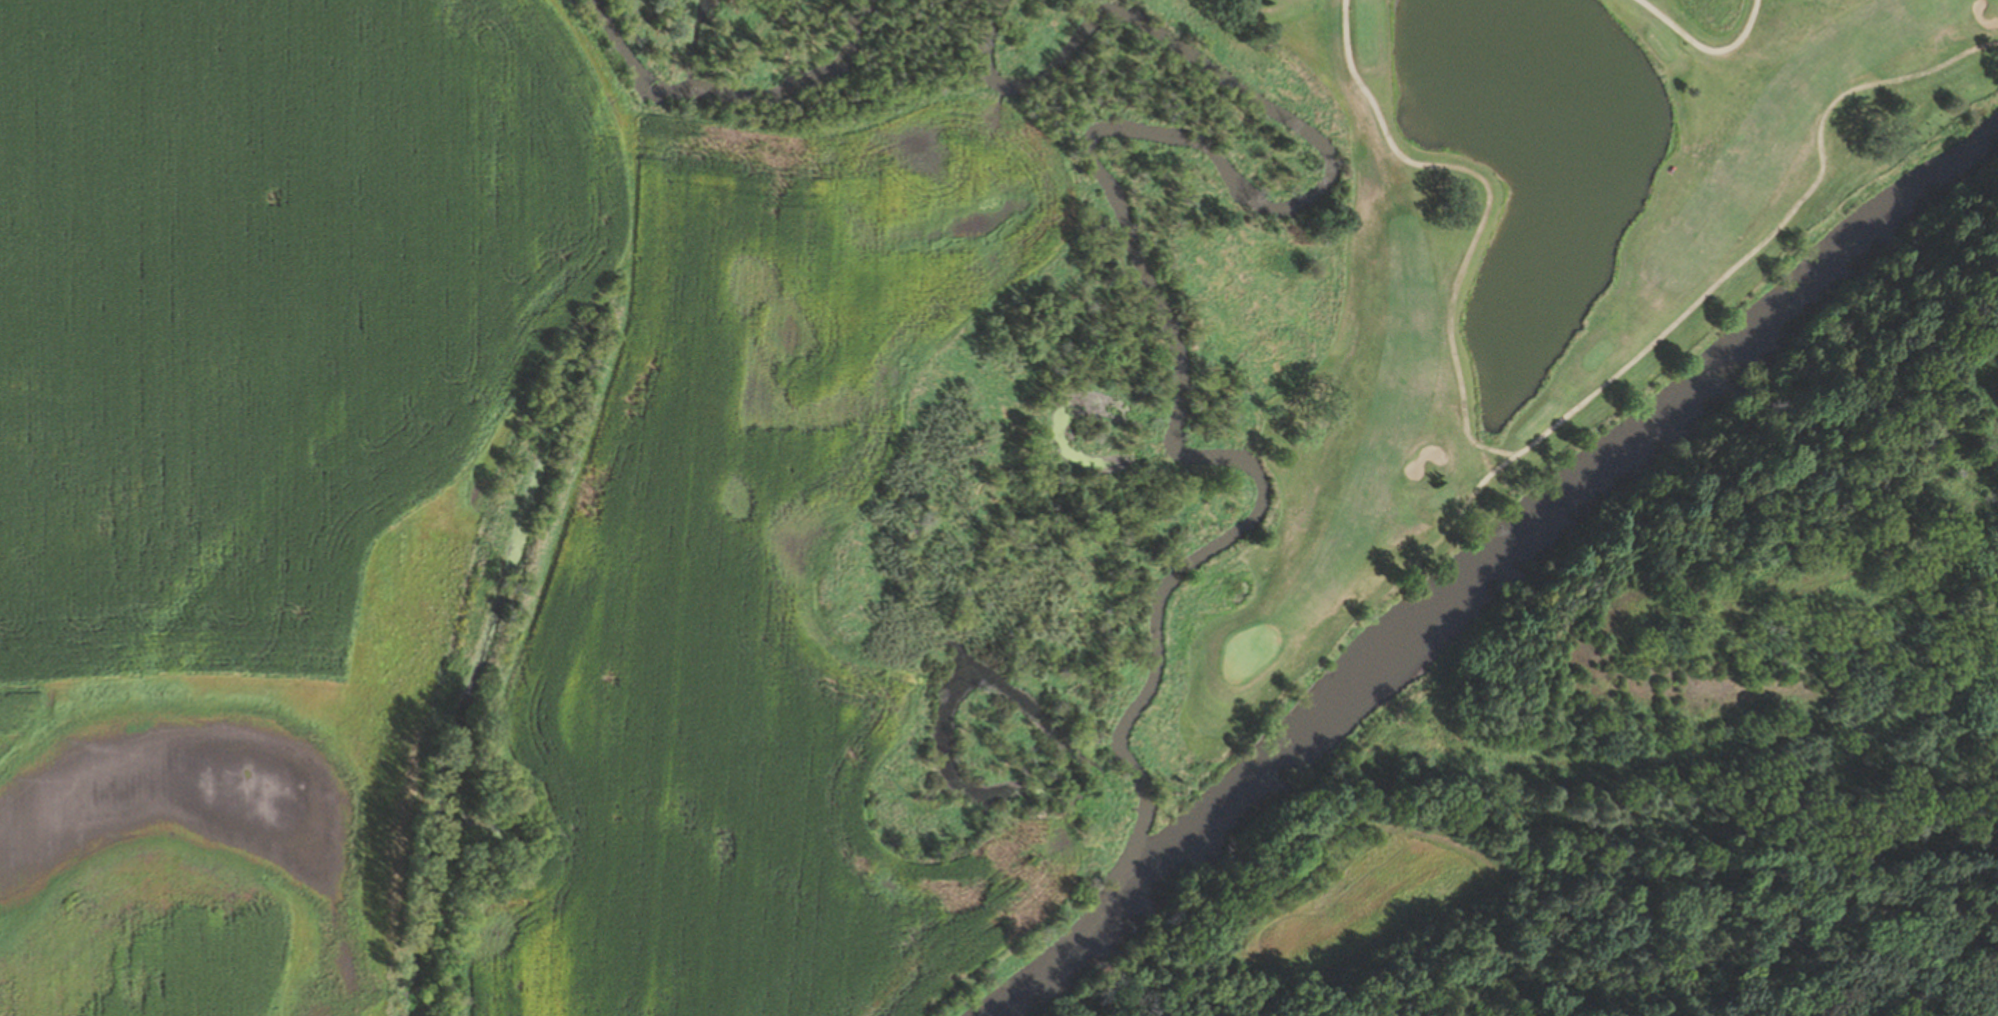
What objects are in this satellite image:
park: (1997, 0)
road: (1704, 49)
river: (724, 108)
park: (1481, 278)
river: (1146, 301)
road: (1551, 425)
road: (1488, 474)
river: (1495, 570)
park: (1244, 651)

